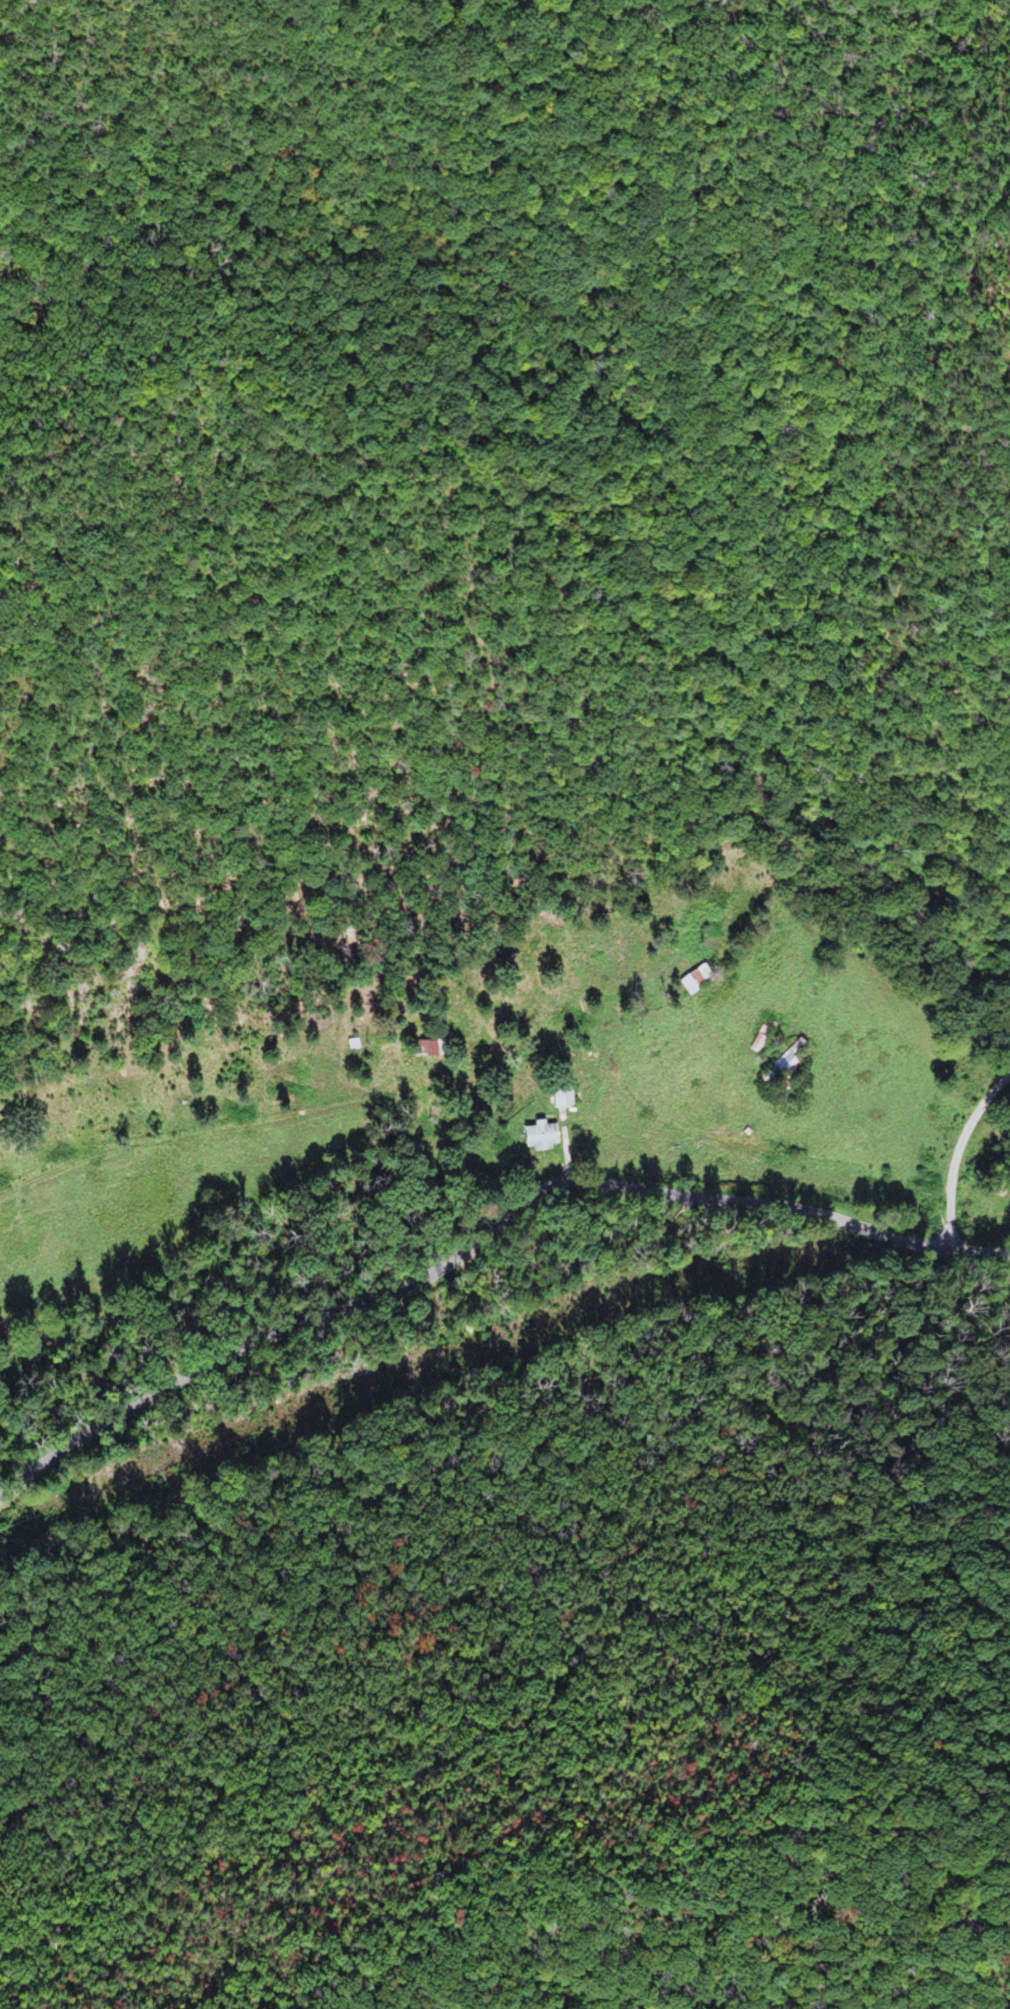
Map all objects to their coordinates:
road: (899, 592)
road: (874, 691)
road: (883, 968)
building: (691, 979)
building: (756, 1039)
building: (428, 1047)
building: (781, 1062)
building: (560, 1093)
road: (278, 1116)
building: (536, 1136)
road: (954, 1150)
road: (483, 1237)
road: (805, 1564)

